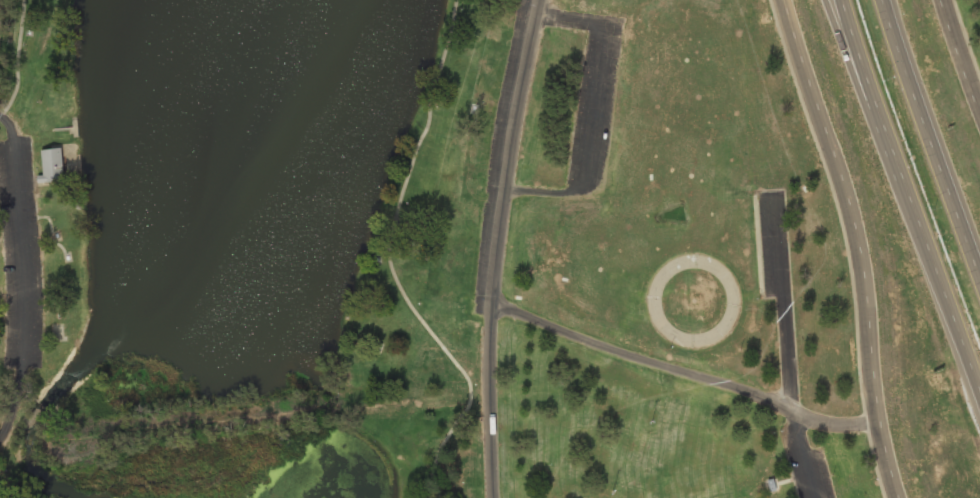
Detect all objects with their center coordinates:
park: (970, 29)
road: (965, 40)
road: (849, 53)
road: (16, 59)
road: (958, 60)
road: (597, 109)
road: (929, 141)
building: (50, 166)
road: (907, 202)
parking lot: (773, 243)
road: (854, 244)
road: (495, 247)
park: (416, 254)
parking lot: (19, 259)
road: (387, 262)
road: (21, 276)
road: (787, 350)
road: (680, 370)
parking lot: (805, 466)

